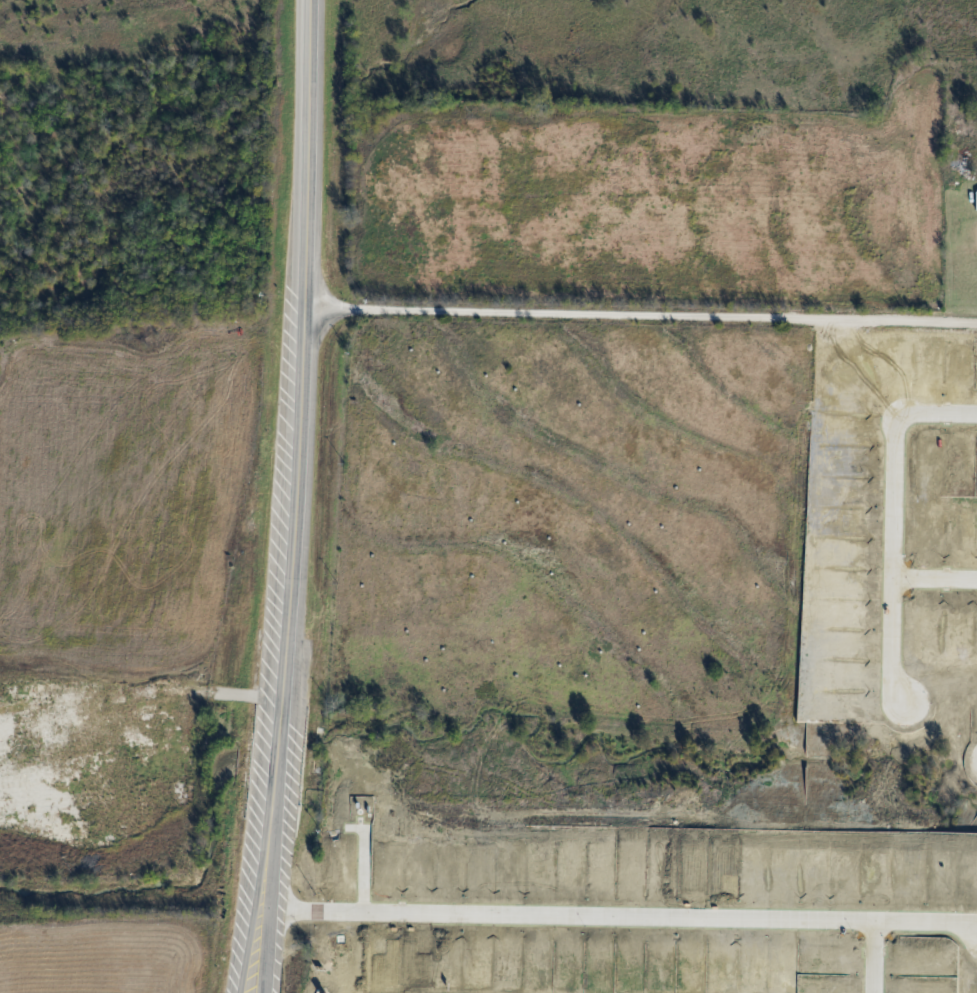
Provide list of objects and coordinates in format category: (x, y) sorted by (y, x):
building: (961, 158)
building: (975, 201)
road: (498, 313)
road: (937, 413)
road: (292, 418)
road: (892, 560)
road: (934, 578)
road: (266, 875)
road: (246, 913)
road: (620, 919)
road: (260, 954)
road: (867, 957)

